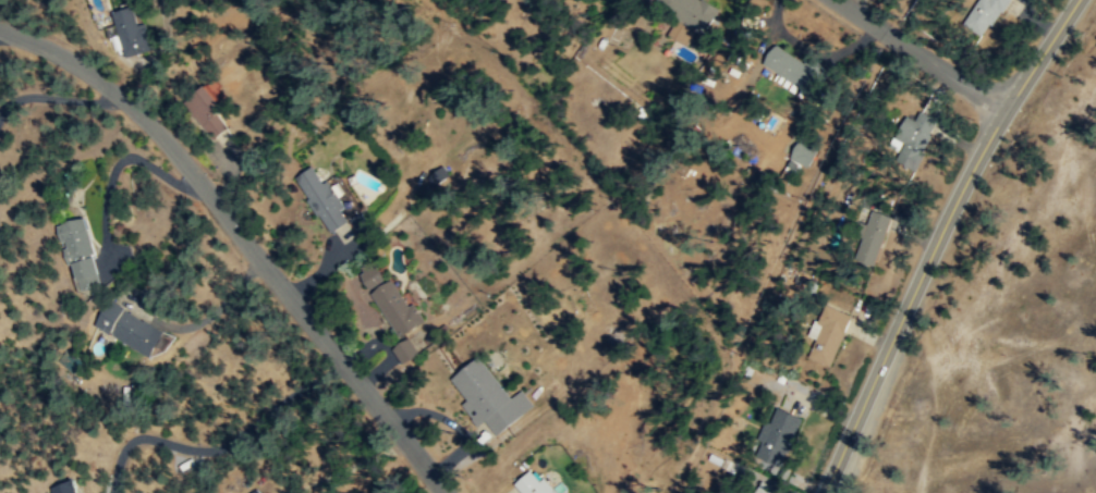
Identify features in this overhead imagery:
building: (692, 11)
building: (984, 15)
building: (131, 30)
road: (920, 56)
building: (791, 66)
building: (208, 110)
building: (915, 135)
building: (801, 156)
building: (439, 175)
building: (322, 198)
road: (247, 235)
building: (872, 239)
road: (937, 239)
building: (80, 254)
building: (372, 276)
building: (397, 307)
building: (125, 326)
building: (828, 333)
building: (404, 349)
building: (488, 396)
building: (778, 427)
building: (532, 483)
building: (64, 488)
building: (763, 488)
building: (738, 492)
building: (741, 492)

